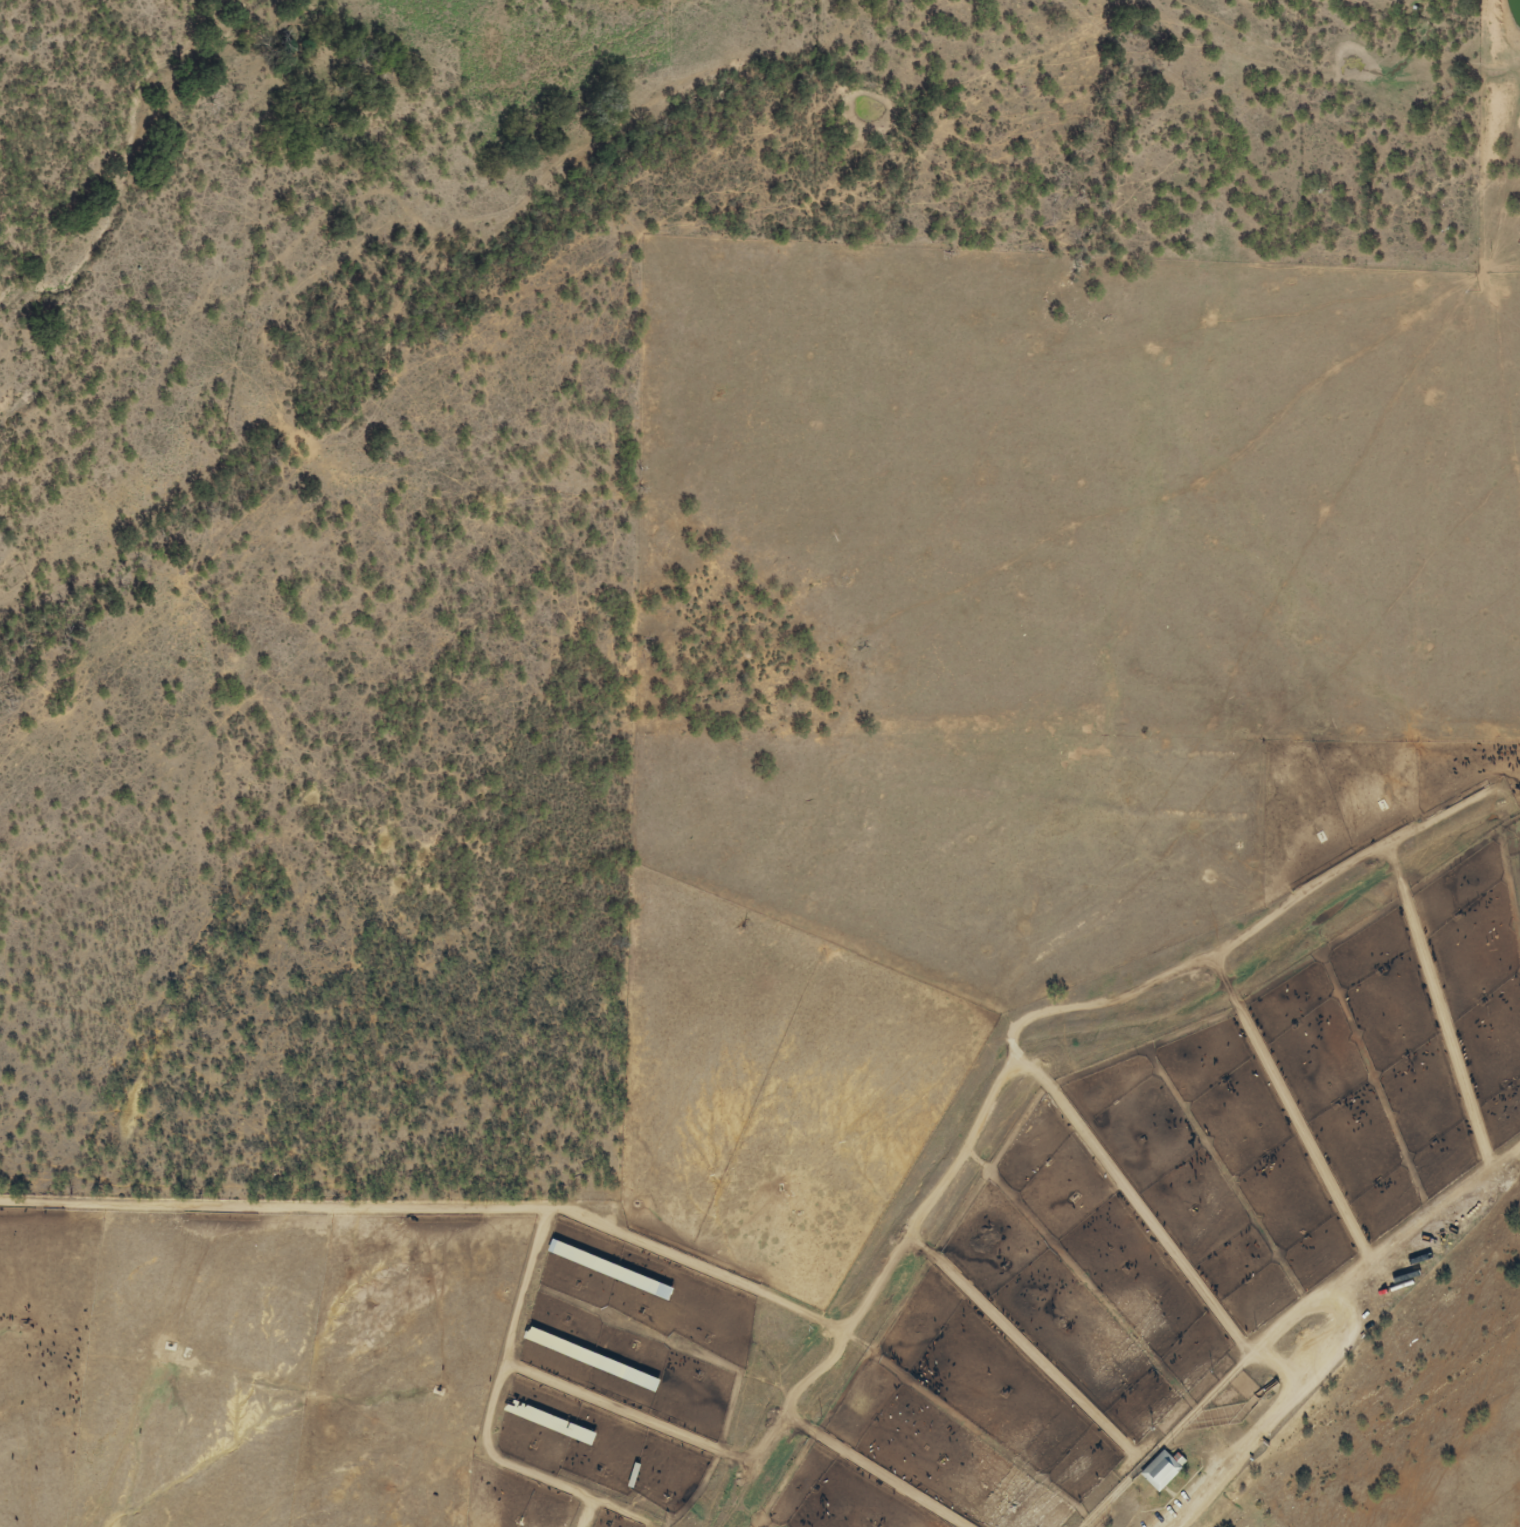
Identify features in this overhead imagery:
building: (598, 1358)
building: (556, 1421)
building: (1158, 1470)

